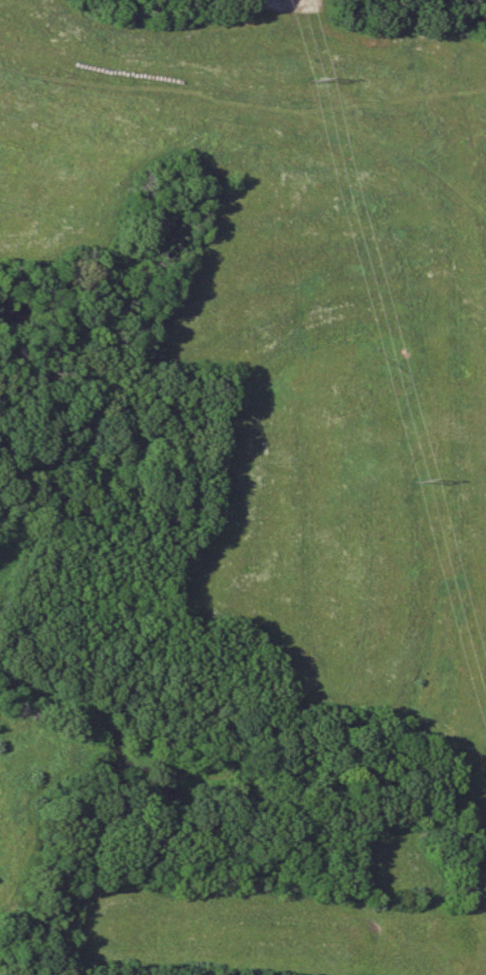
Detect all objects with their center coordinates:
power tower: (325, 78)
power tower: (435, 485)

